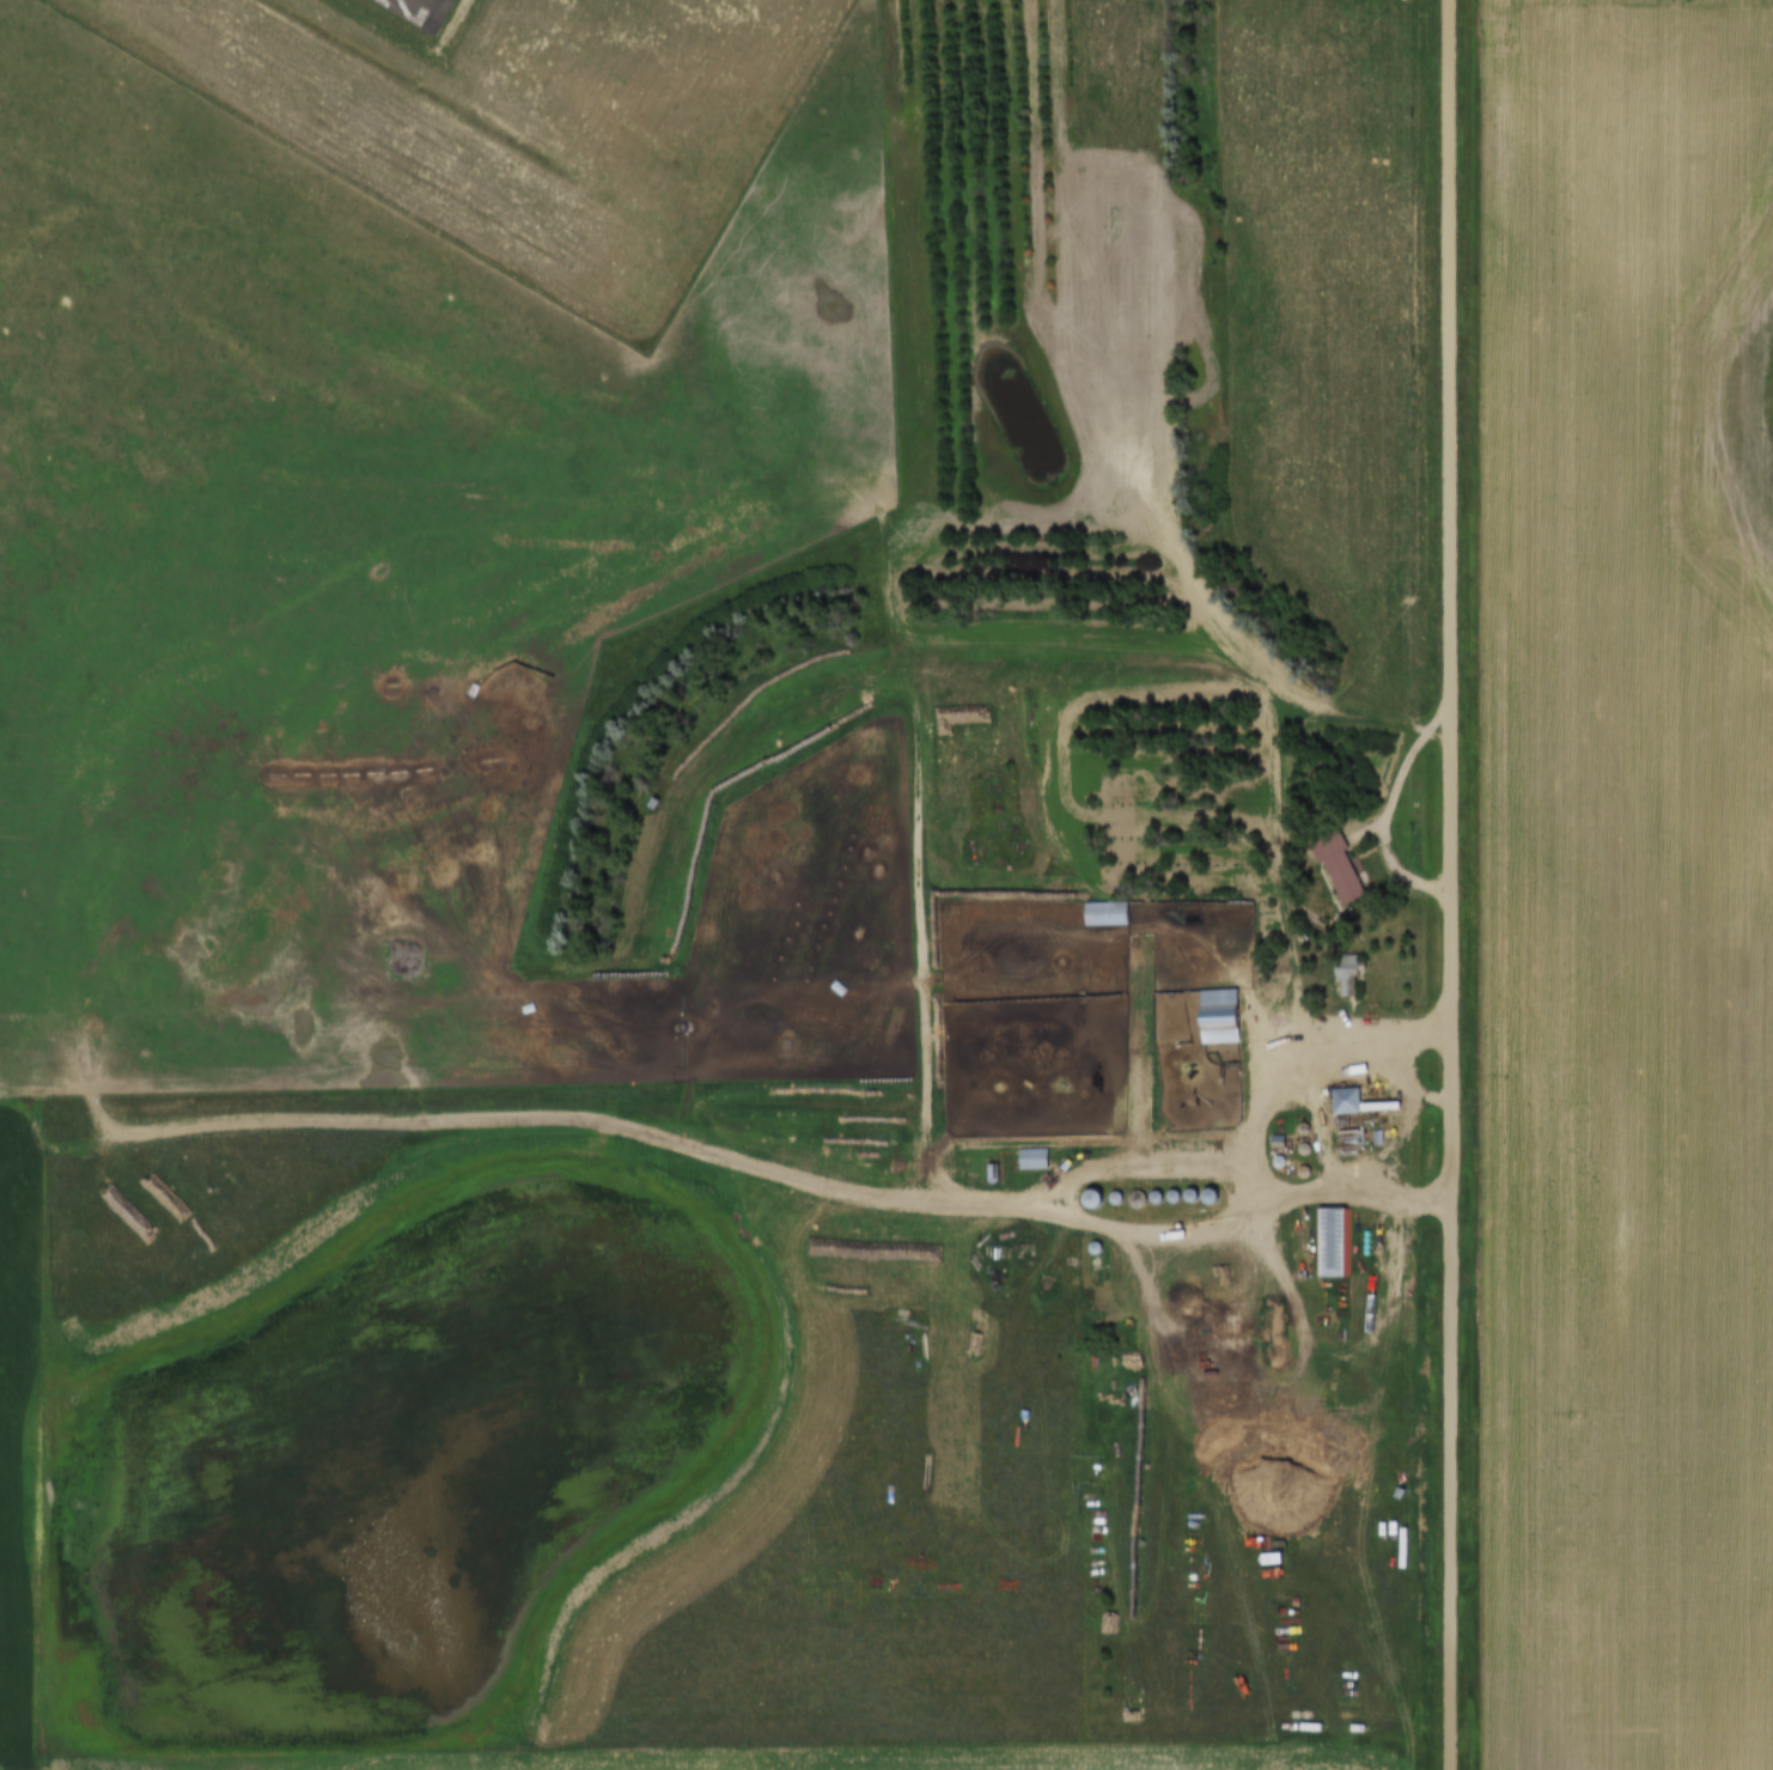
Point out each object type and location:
airport runway: (414, 5)
airport: (507, 120)
building: (1352, 872)
building: (1338, 878)
road: (1450, 884)
building: (1113, 908)
building: (1099, 918)
building: (1229, 1014)
building: (1153, 1045)
building: (1140, 1052)
building: (1355, 1095)
building: (1342, 1105)
building: (1040, 1155)
building: (1029, 1162)
building: (1341, 1239)

